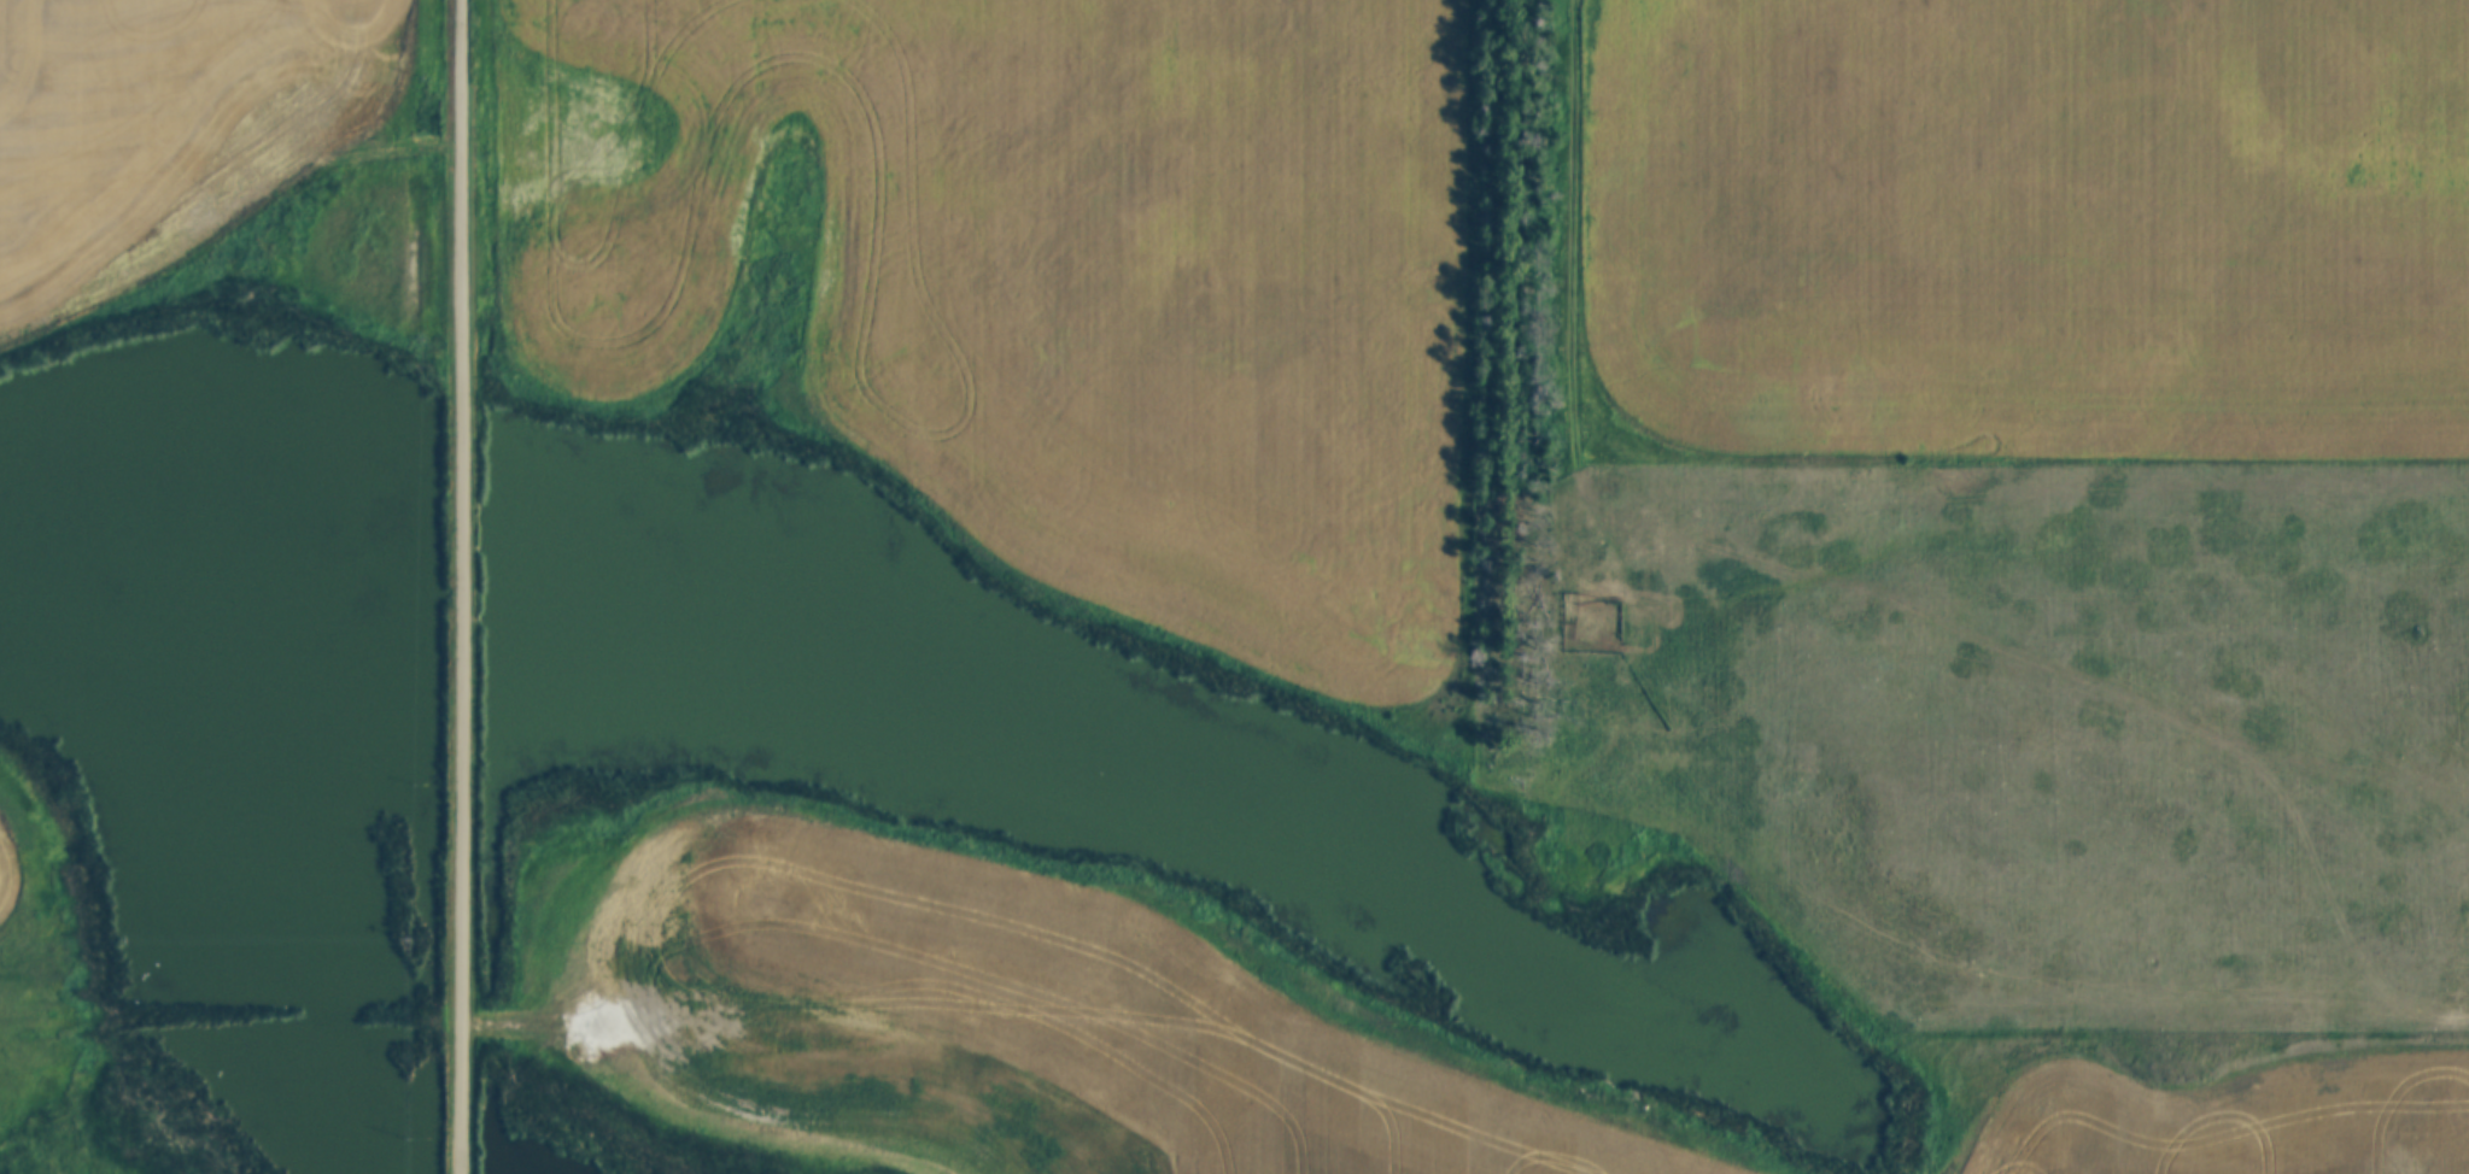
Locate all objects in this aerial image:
road: (463, 587)

